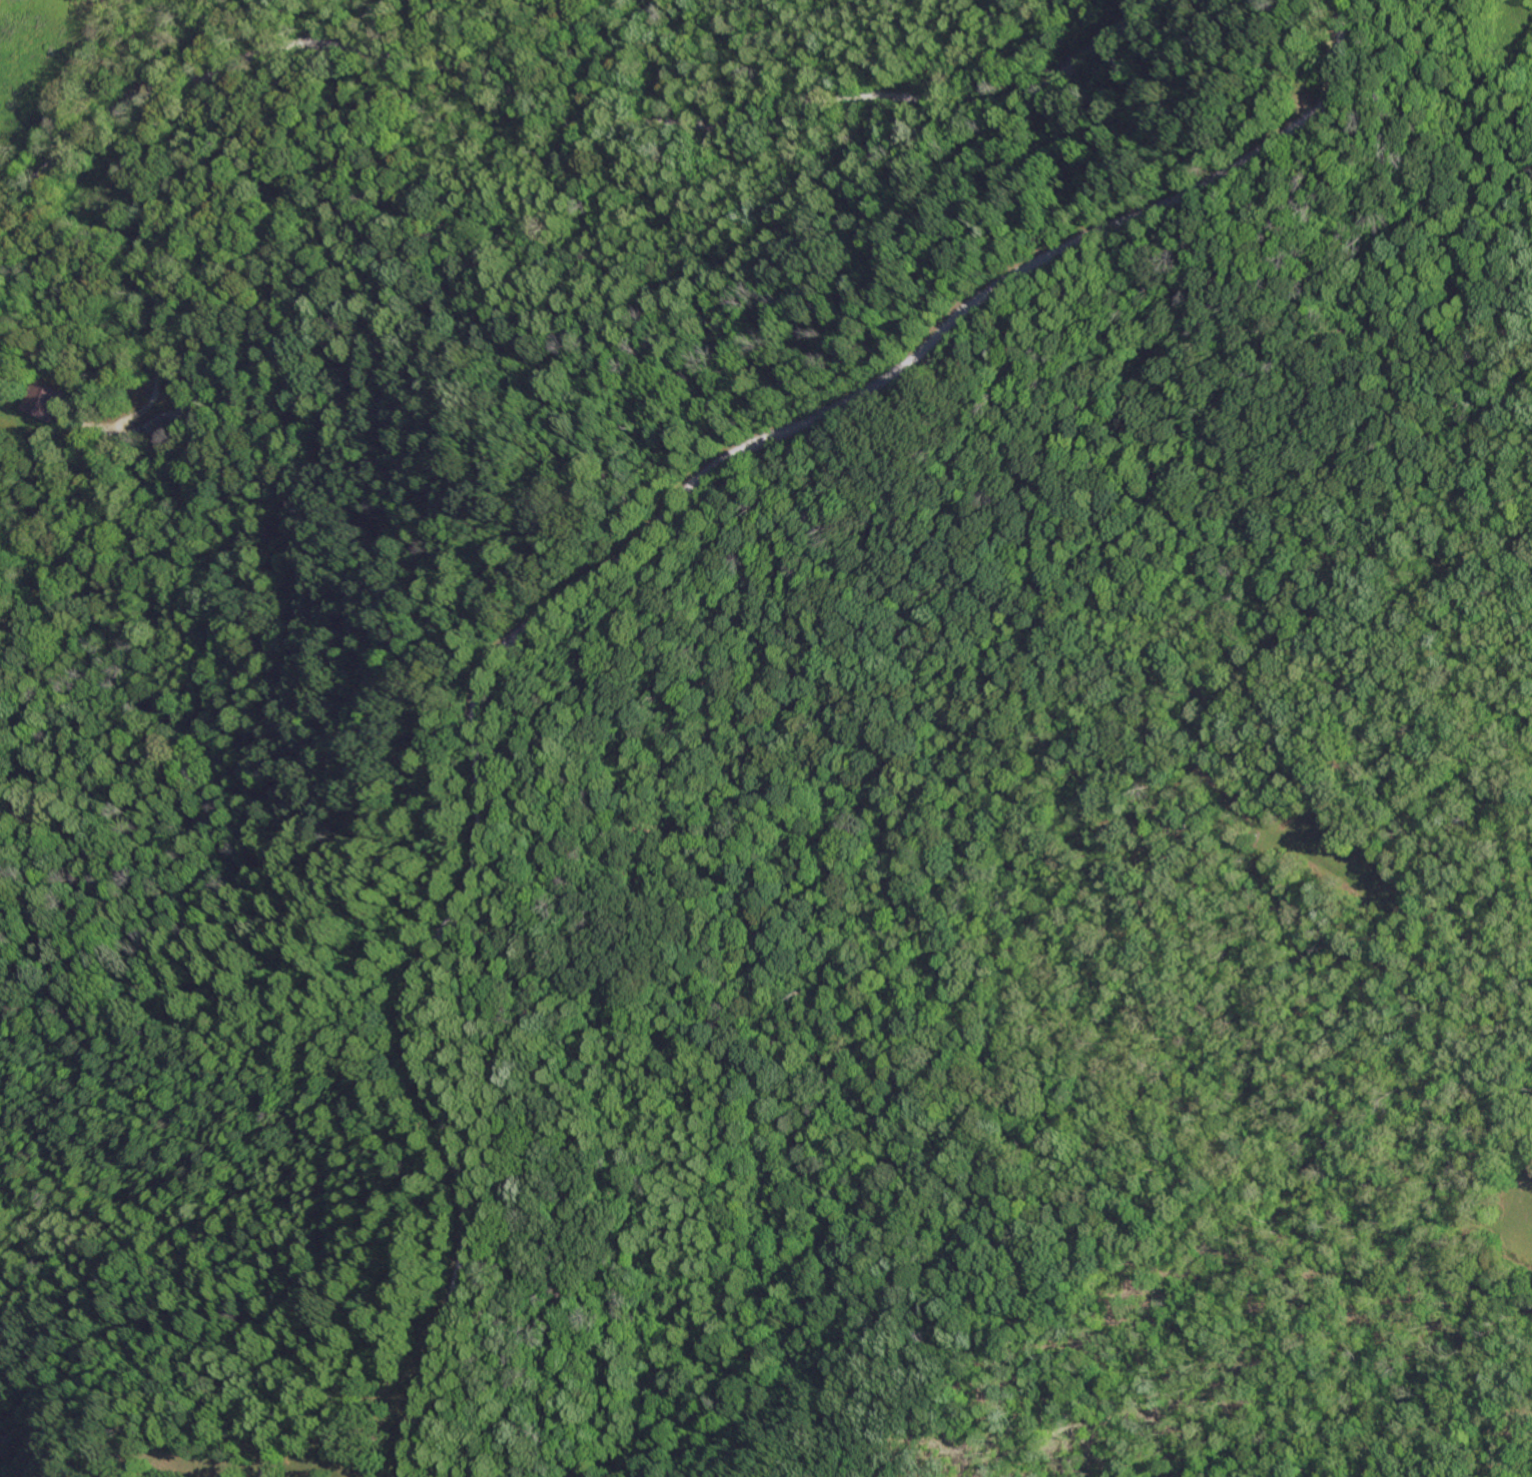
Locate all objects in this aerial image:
road: (567, 119)
road: (738, 251)
building: (44, 402)
road: (596, 577)

